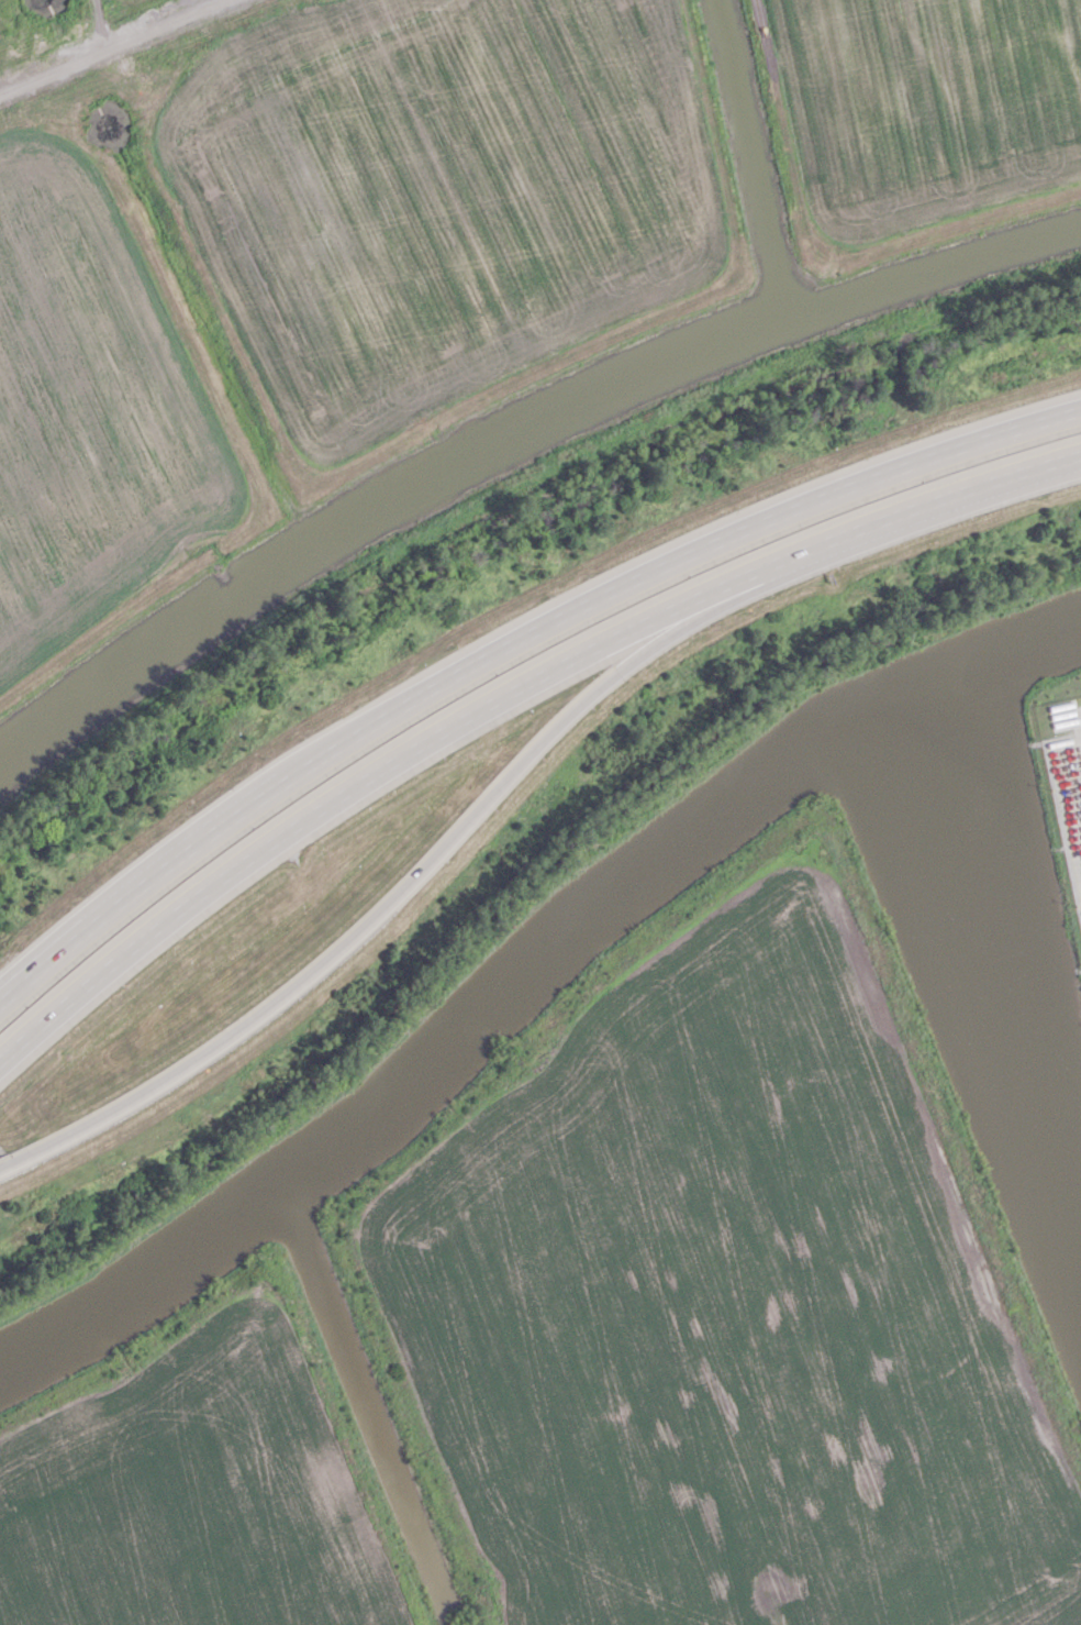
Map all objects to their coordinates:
road: (101, 25)
road: (113, 47)
road: (939, 497)
road: (691, 551)
road: (378, 769)
road: (159, 869)
road: (413, 874)

